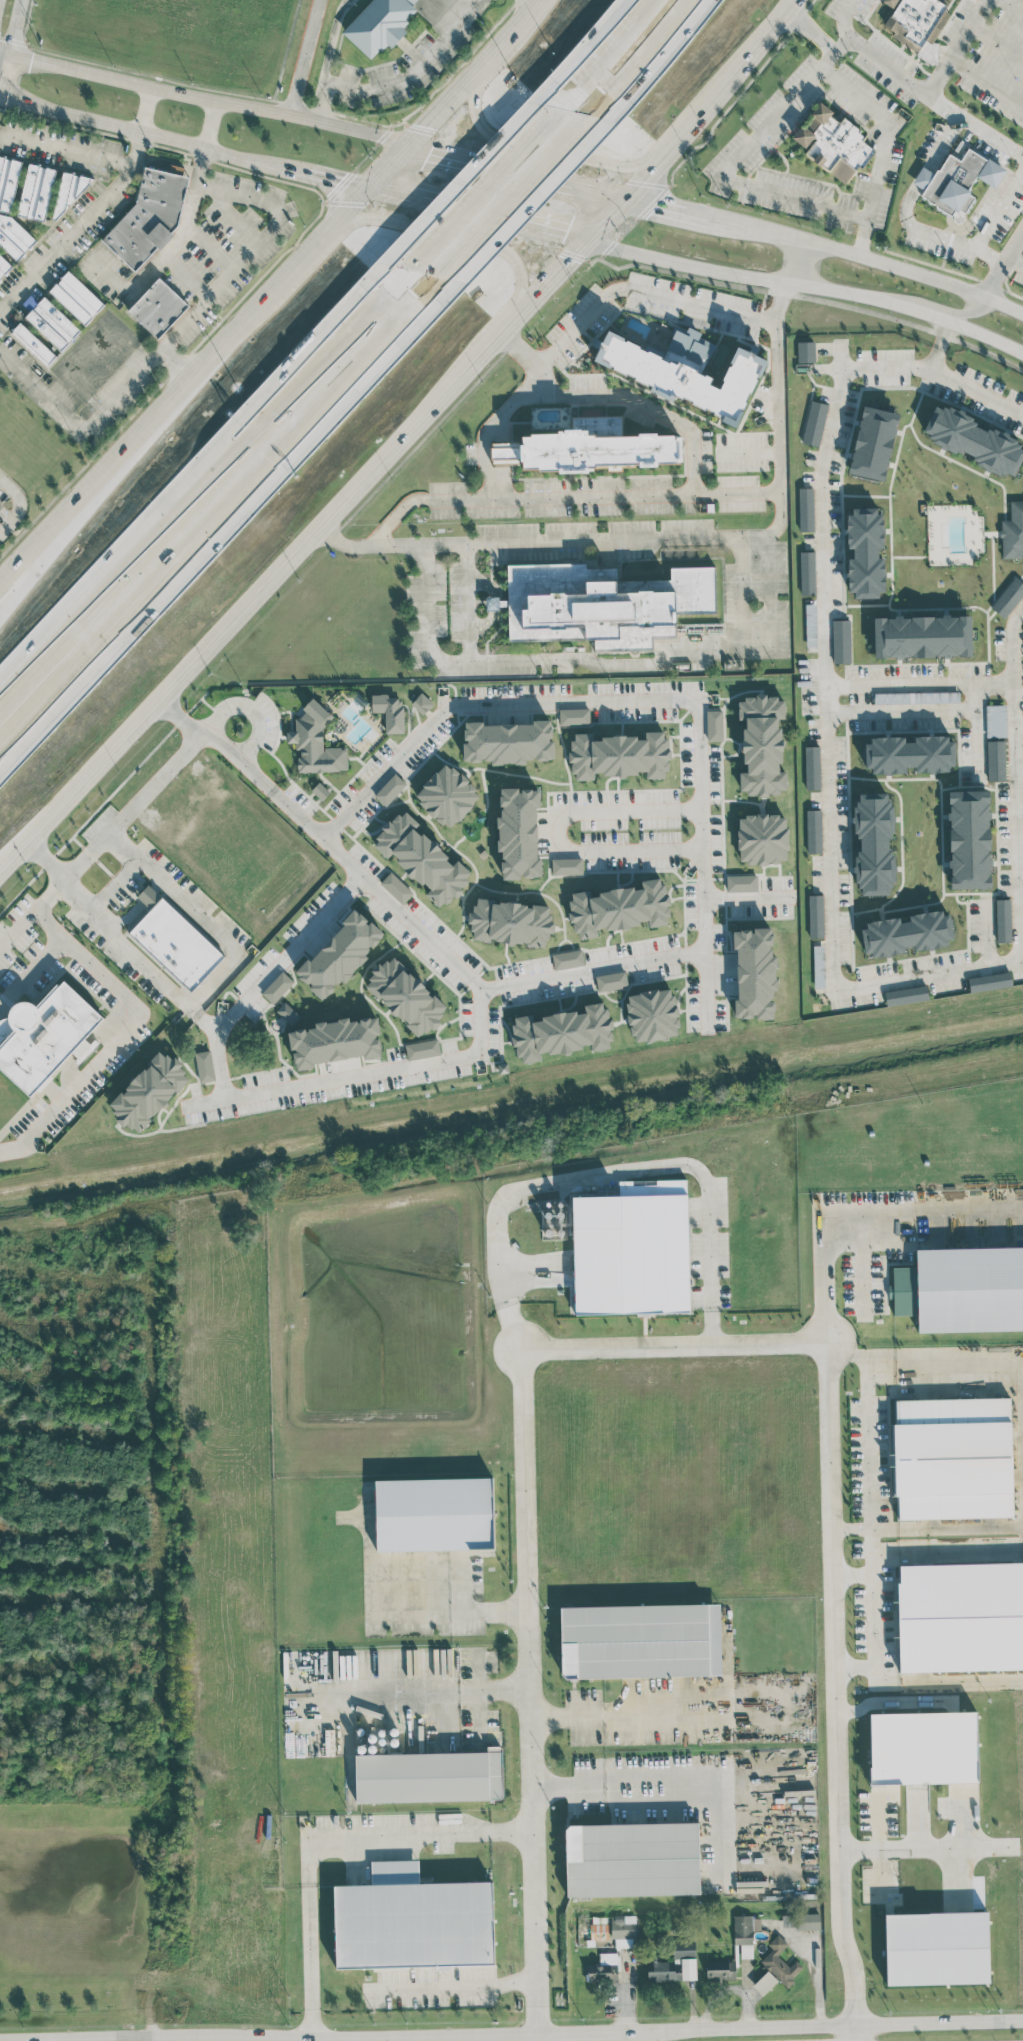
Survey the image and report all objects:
road: (536, 3)
road: (1017, 3)
road: (535, 11)
building: (912, 19)
building: (379, 24)
road: (611, 40)
road: (843, 43)
road: (995, 43)
road: (955, 46)
road: (13, 48)
road: (499, 52)
road: (645, 55)
traffic signals: (32, 56)
road: (305, 57)
road: (987, 78)
road: (400, 81)
road: (917, 86)
road: (0, 96)
road: (208, 96)
road: (145, 106)
road: (447, 110)
road: (212, 122)
road: (145, 131)
traffic signals: (419, 139)
road: (943, 139)
road: (749, 142)
building: (832, 143)
road: (881, 146)
road: (602, 149)
road: (87, 152)
road: (498, 157)
road: (658, 157)
road: (393, 162)
road: (329, 175)
road: (922, 175)
building: (8, 181)
building: (956, 181)
road: (479, 182)
road: (605, 182)
traffic signals: (368, 185)
traffic signals: (633, 189)
building: (36, 191)
road: (394, 191)
road: (671, 200)
road: (998, 207)
road: (508, 208)
building: (149, 216)
road: (504, 219)
road: (756, 225)
road: (429, 230)
building: (13, 236)
road: (937, 236)
road: (67, 237)
road: (268, 237)
traffic signals: (587, 240)
road: (213, 245)
road: (793, 260)
road: (1002, 262)
road: (1014, 262)
building: (3, 265)
road: (153, 265)
road: (914, 271)
road: (187, 275)
road: (749, 276)
road: (642, 291)
building: (76, 297)
building: (157, 307)
road: (967, 309)
road: (930, 312)
building: (52, 323)
road: (503, 326)
road: (942, 332)
road: (985, 335)
building: (33, 343)
building: (805, 351)
road: (934, 357)
building: (684, 376)
road: (185, 388)
road: (643, 403)
road: (96, 415)
building: (814, 422)
building: (973, 439)
building: (873, 442)
building: (594, 450)
road: (485, 463)
road: (190, 484)
road: (641, 494)
road: (17, 505)
building: (805, 509)
road: (207, 528)
building: (1012, 531)
road: (670, 536)
building: (865, 552)
road: (36, 563)
building: (807, 572)
road: (482, 580)
road: (740, 592)
building: (1008, 597)
road: (466, 601)
building: (496, 602)
road: (492, 603)
building: (602, 604)
road: (245, 608)
building: (810, 624)
road: (483, 625)
building: (922, 636)
building: (841, 641)
road: (602, 665)
road: (919, 680)
road: (646, 695)
building: (916, 697)
building: (421, 703)
road: (901, 709)
building: (389, 711)
road: (246, 712)
building: (574, 716)
building: (996, 720)
building: (714, 725)
road: (1018, 726)
road: (199, 729)
road: (975, 730)
building: (315, 741)
building: (508, 741)
building: (761, 745)
building: (909, 754)
building: (619, 755)
building: (995, 760)
building: (812, 767)
building: (389, 789)
building: (447, 795)
road: (559, 830)
building: (814, 831)
building: (518, 832)
road: (100, 837)
building: (762, 838)
building: (969, 839)
building: (874, 843)
road: (830, 852)
building: (422, 858)
building: (566, 866)
road: (1020, 873)
building: (741, 883)
road: (113, 885)
building: (396, 887)
road: (743, 898)
building: (619, 908)
road: (191, 914)
building: (815, 916)
building: (1003, 920)
building: (510, 922)
road: (106, 924)
road: (986, 929)
building: (907, 933)
building: (173, 941)
building: (340, 953)
road: (285, 955)
building: (567, 959)
road: (591, 968)
building: (754, 972)
road: (34, 975)
building: (611, 980)
building: (989, 981)
building: (277, 987)
building: (906, 995)
building: (405, 996)
road: (479, 1000)
building: (288, 1014)
building: (652, 1014)
building: (561, 1032)
road: (123, 1033)
building: (43, 1035)
building: (335, 1041)
building: (422, 1049)
road: (216, 1051)
building: (204, 1066)
building: (149, 1091)
road: (612, 1173)
building: (553, 1220)
road: (968, 1220)
road: (824, 1246)
building: (632, 1249)
road: (861, 1274)
building: (962, 1289)
road: (674, 1345)
road: (853, 1357)
road: (1008, 1359)
road: (870, 1444)
building: (953, 1458)
building: (434, 1514)
road: (972, 1528)
road: (875, 1529)
road: (852, 1573)
road: (451, 1609)
building: (960, 1616)
road: (873, 1617)
building: (640, 1640)
road: (495, 1689)
road: (383, 1693)
road: (703, 1712)
road: (566, 1718)
building: (923, 1747)
road: (726, 1769)
building: (429, 1776)
road: (569, 1781)
road: (328, 1841)
road: (921, 1851)
building: (631, 1859)
building: (412, 1920)
building: (802, 1921)
building: (742, 1929)
building: (623, 1931)
building: (936, 1948)
building: (780, 1962)
building: (676, 1963)
building: (603, 1968)
building: (720, 1969)
building: (764, 1982)
road: (461, 1984)
road: (811, 2028)
road: (568, 2034)
road: (855, 2034)
road: (387, 2035)
road: (207, 2036)
road: (88, 2038)
road: (175, 2038)
road: (537, 2038)

